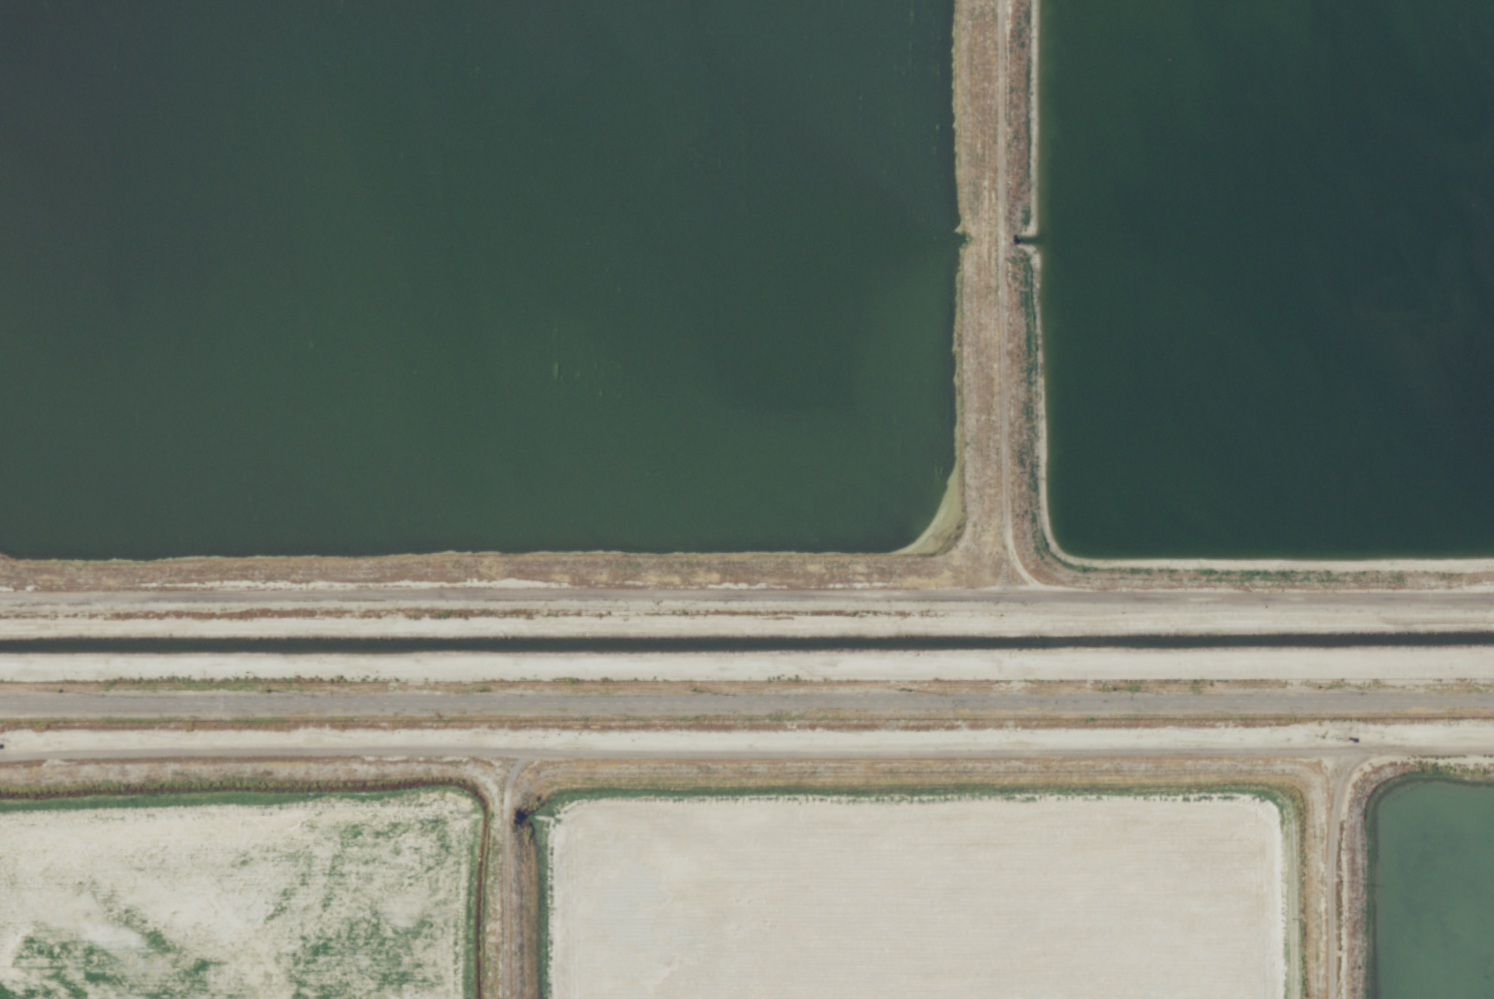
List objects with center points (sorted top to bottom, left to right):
wastewater plant: (1266, 279)
wastewater plant: (482, 286)
wastewater plant: (747, 499)
road: (1008, 539)
road: (504, 590)
road: (747, 666)
road: (747, 699)
road: (885, 750)
road: (266, 758)
road: (1327, 873)
wastewater plant: (1430, 887)
wastewater plant: (923, 897)
wastewater plant: (233, 901)

